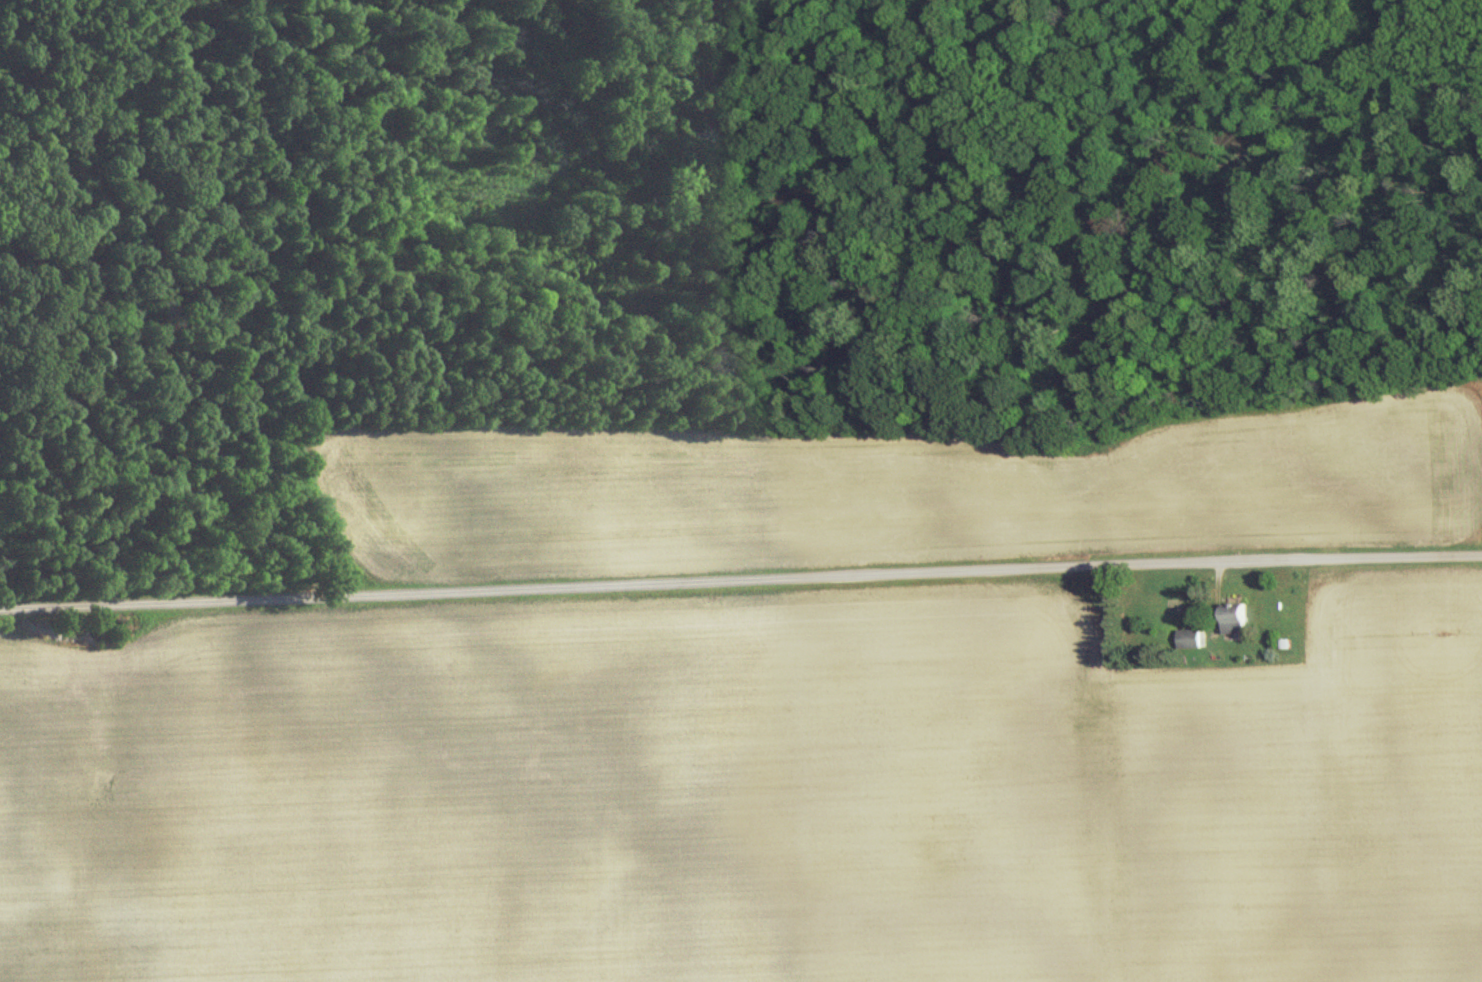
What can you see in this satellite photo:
road: (740, 581)
building: (1241, 616)
building: (1192, 636)

